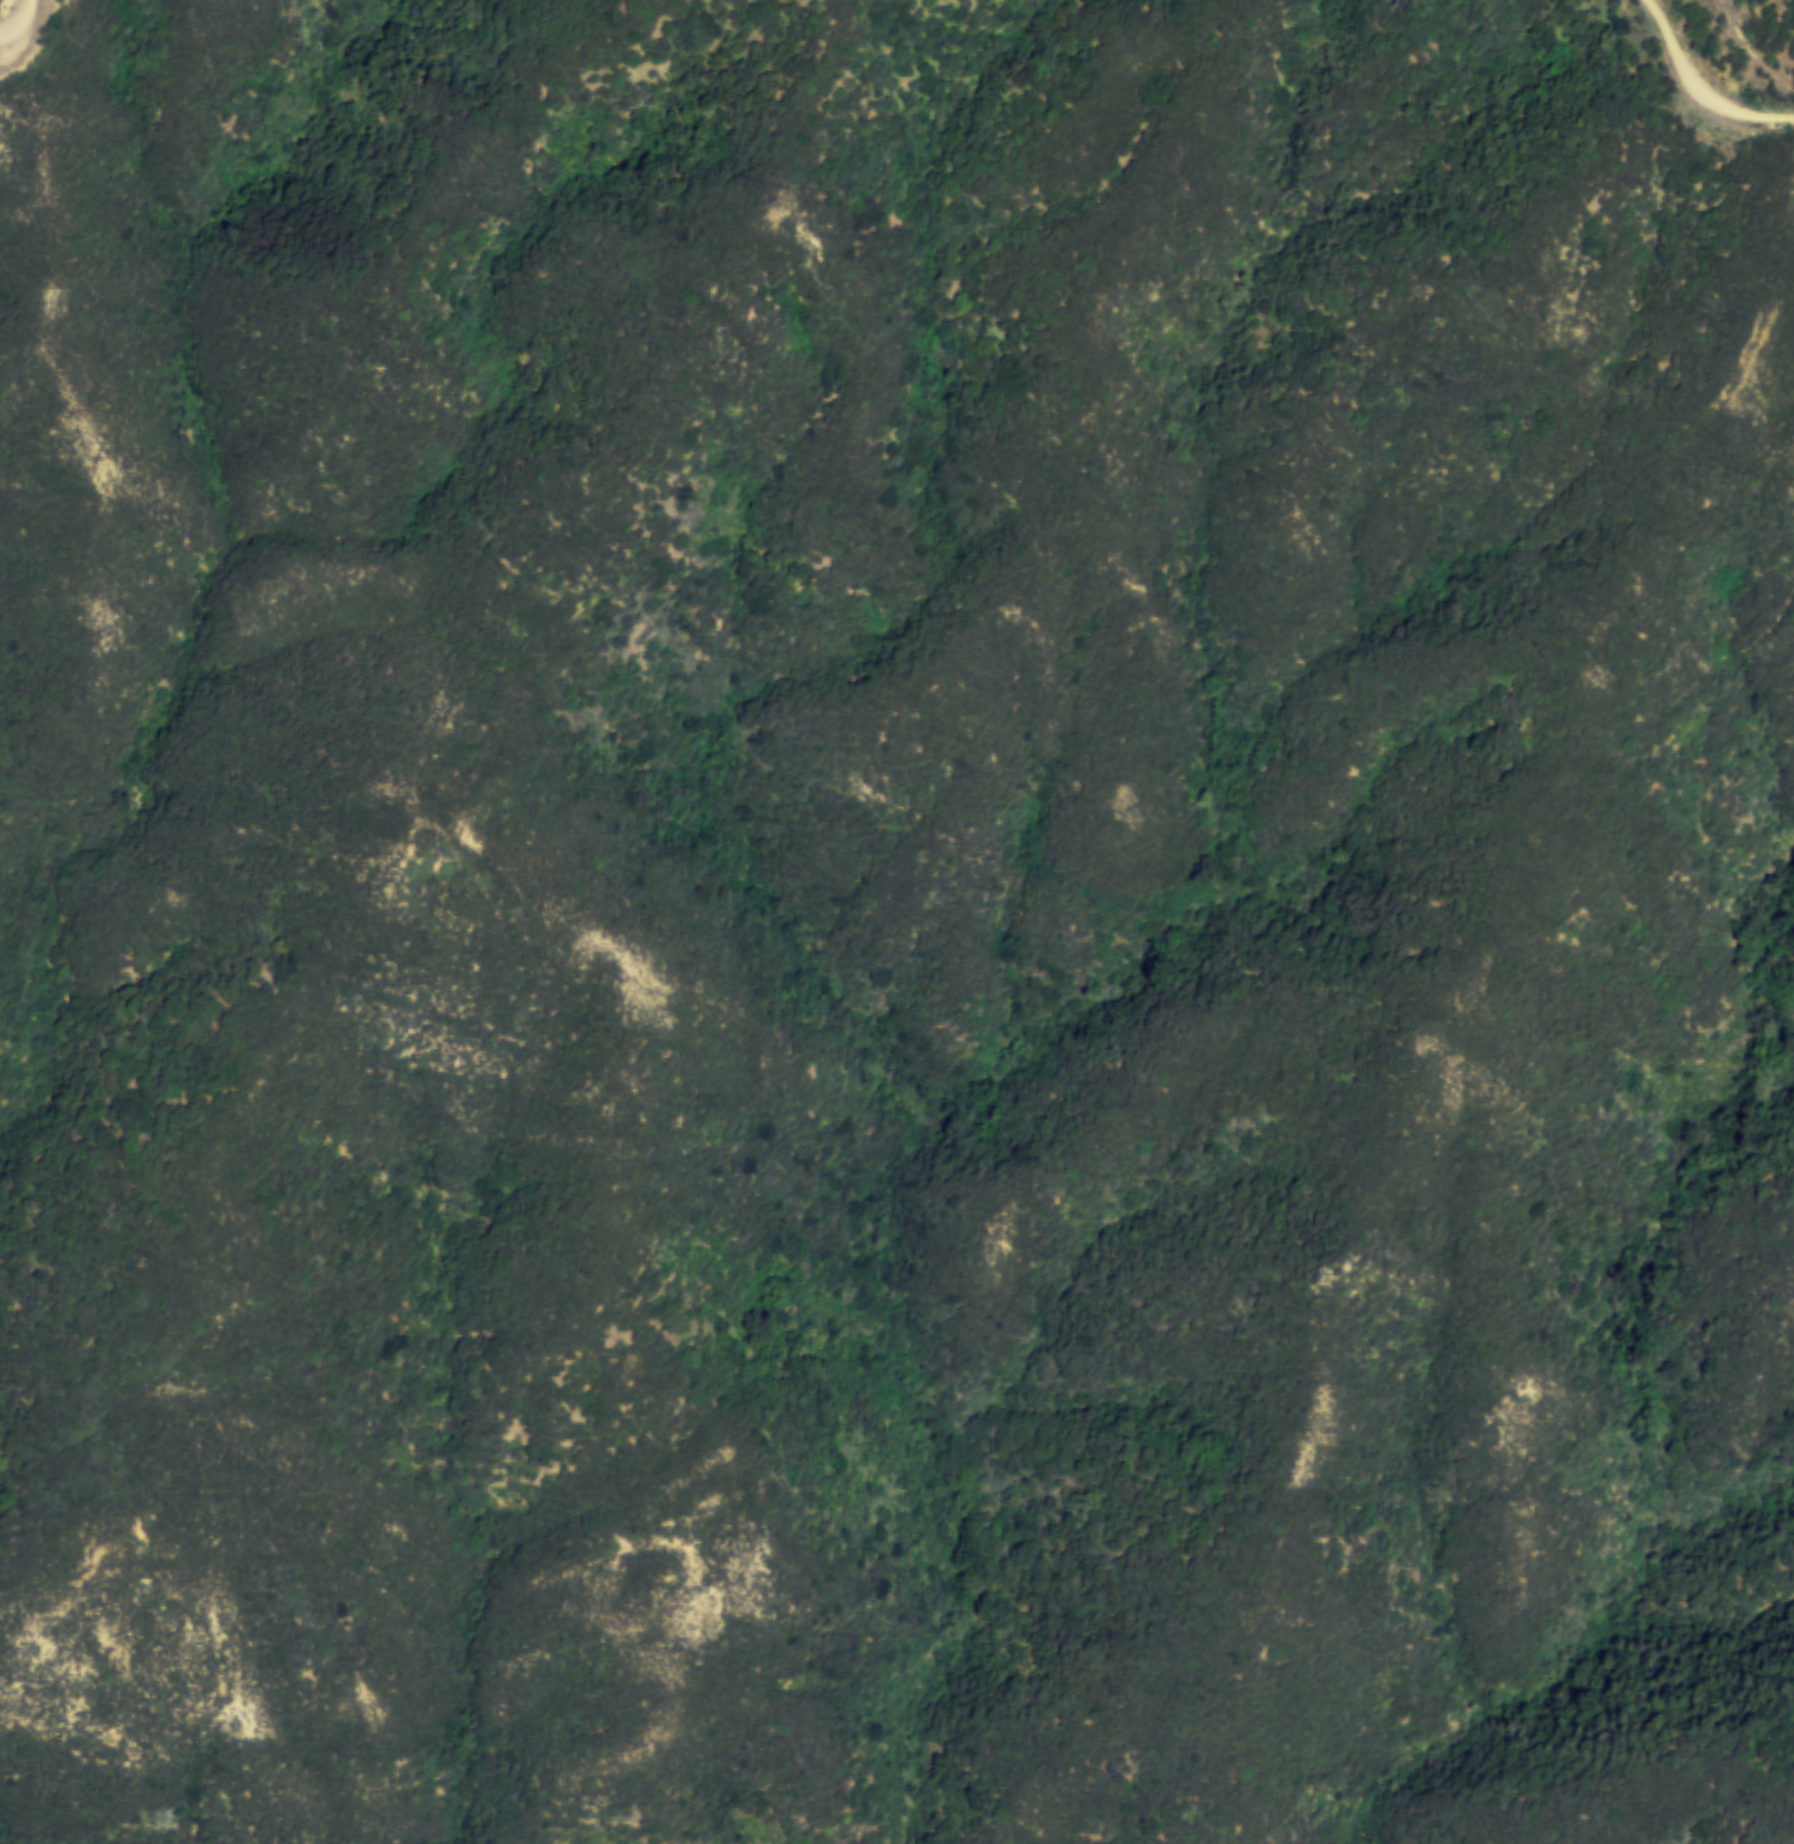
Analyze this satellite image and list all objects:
road: (19, 22)
road: (1749, 49)
road: (1694, 93)

